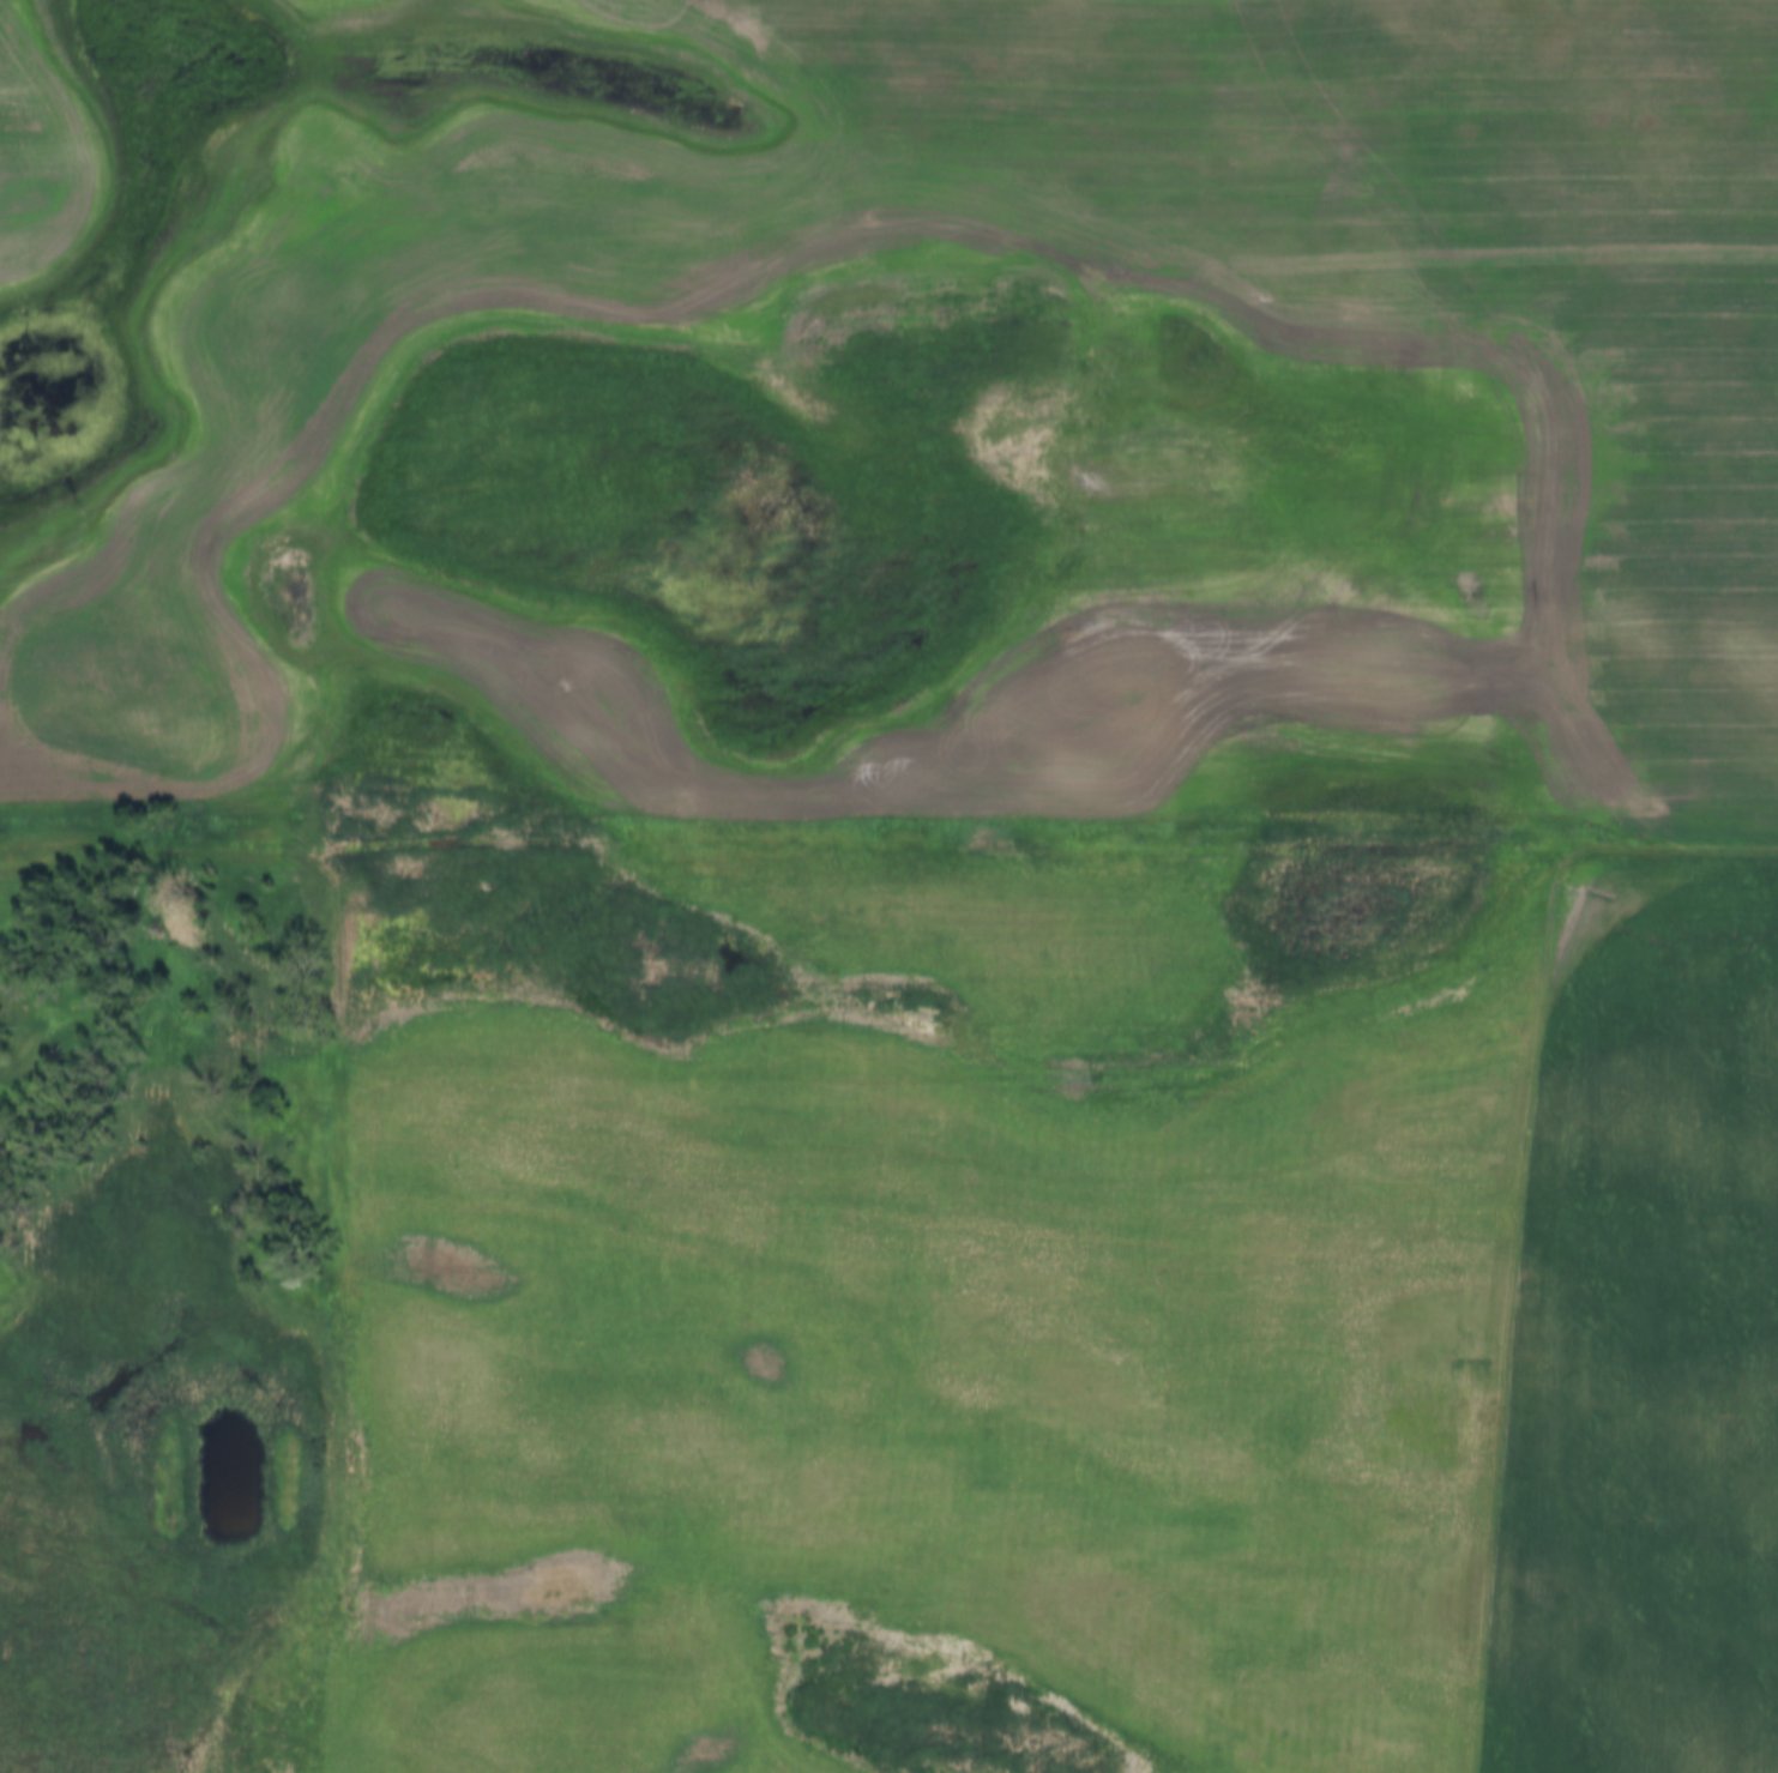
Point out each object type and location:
road: (878, 834)

